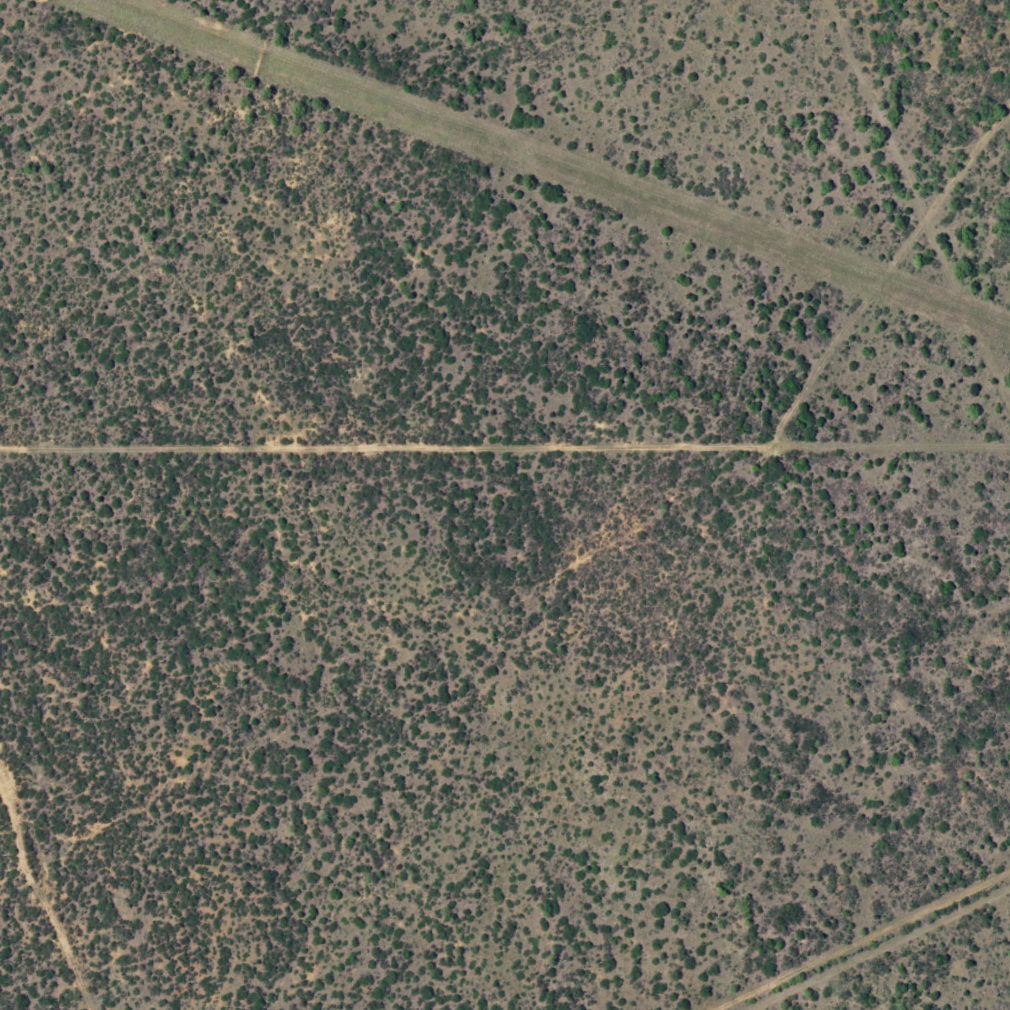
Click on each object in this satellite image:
road: (904, 964)

